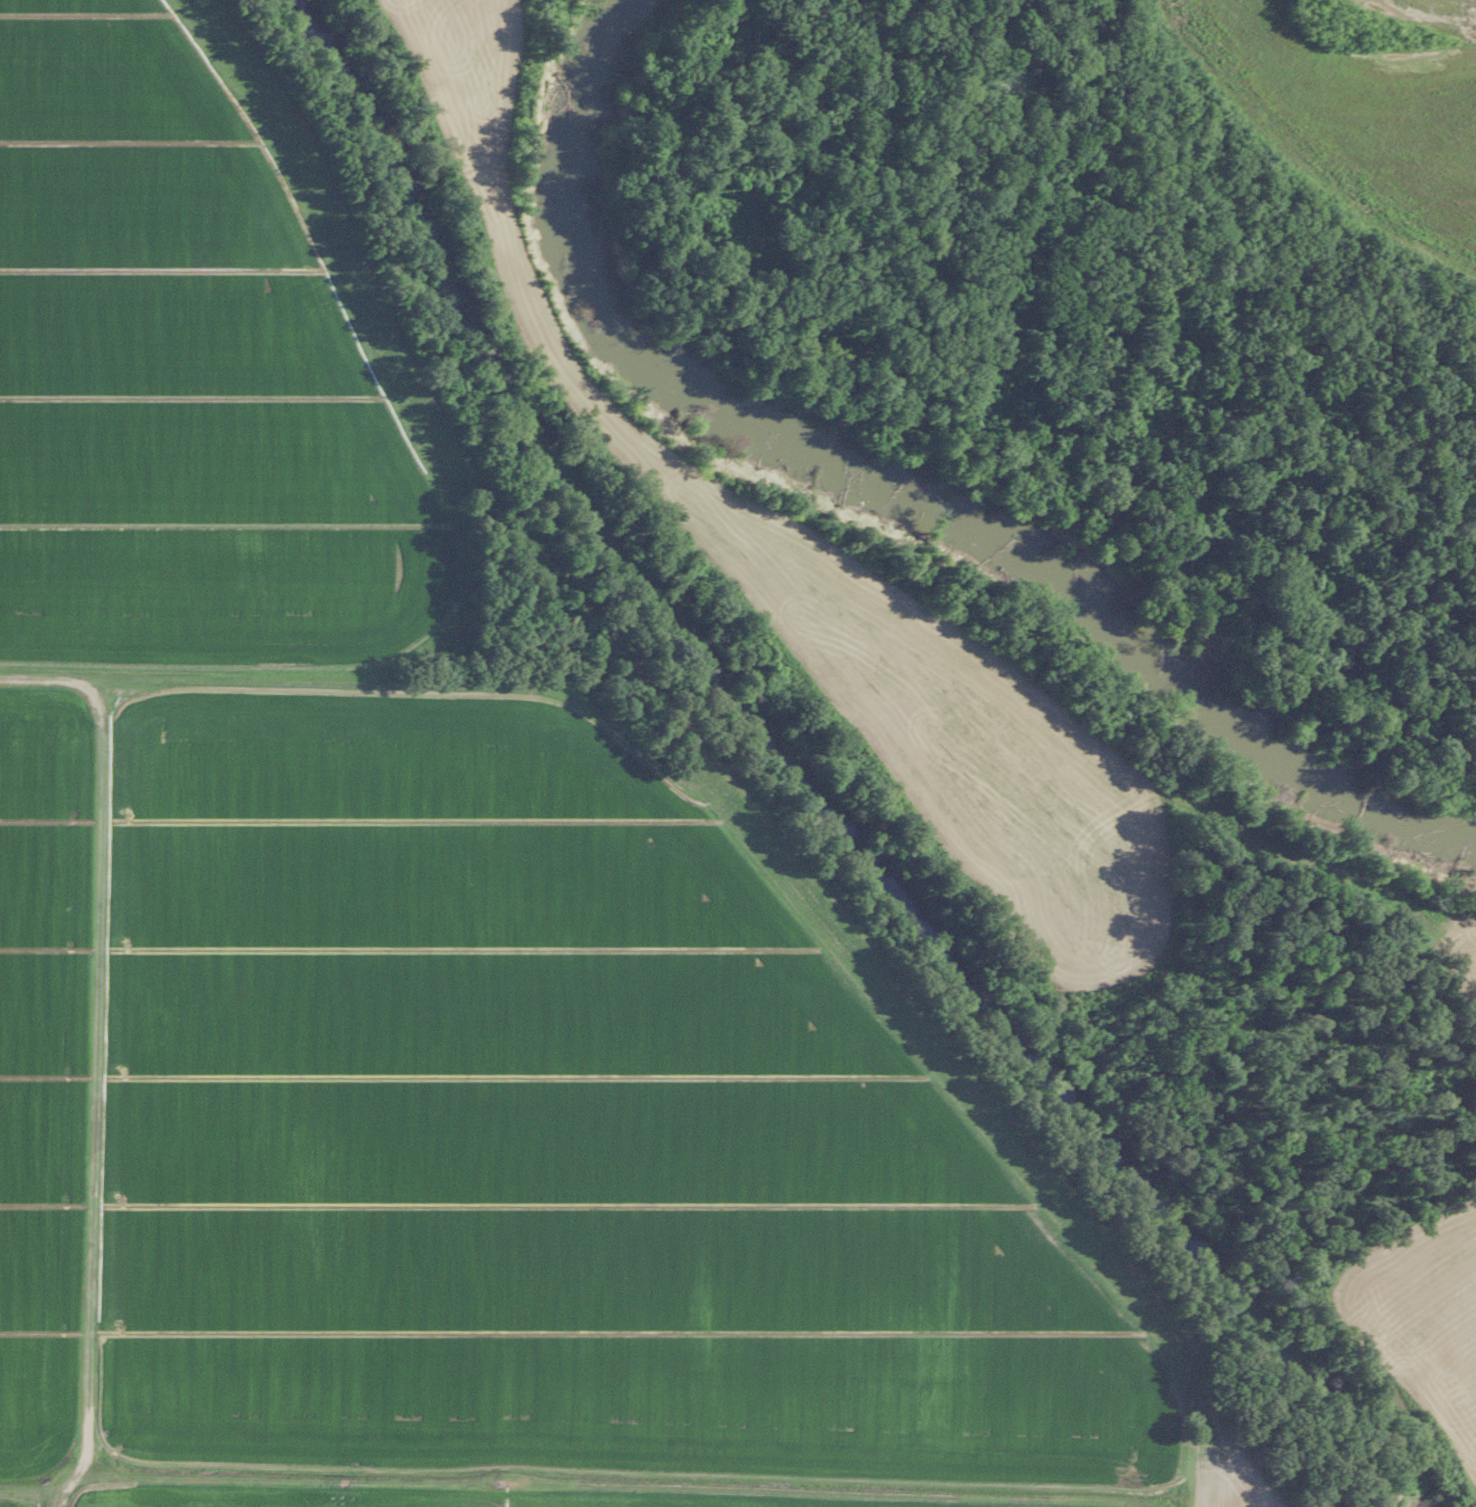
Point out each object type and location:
river: (904, 474)
road: (46, 681)
road: (818, 792)

